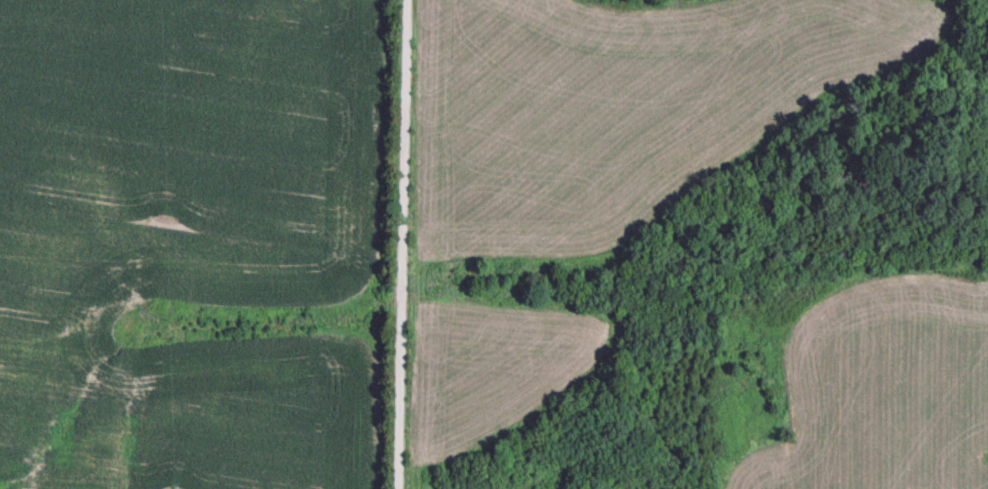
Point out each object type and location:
road: (403, 244)

